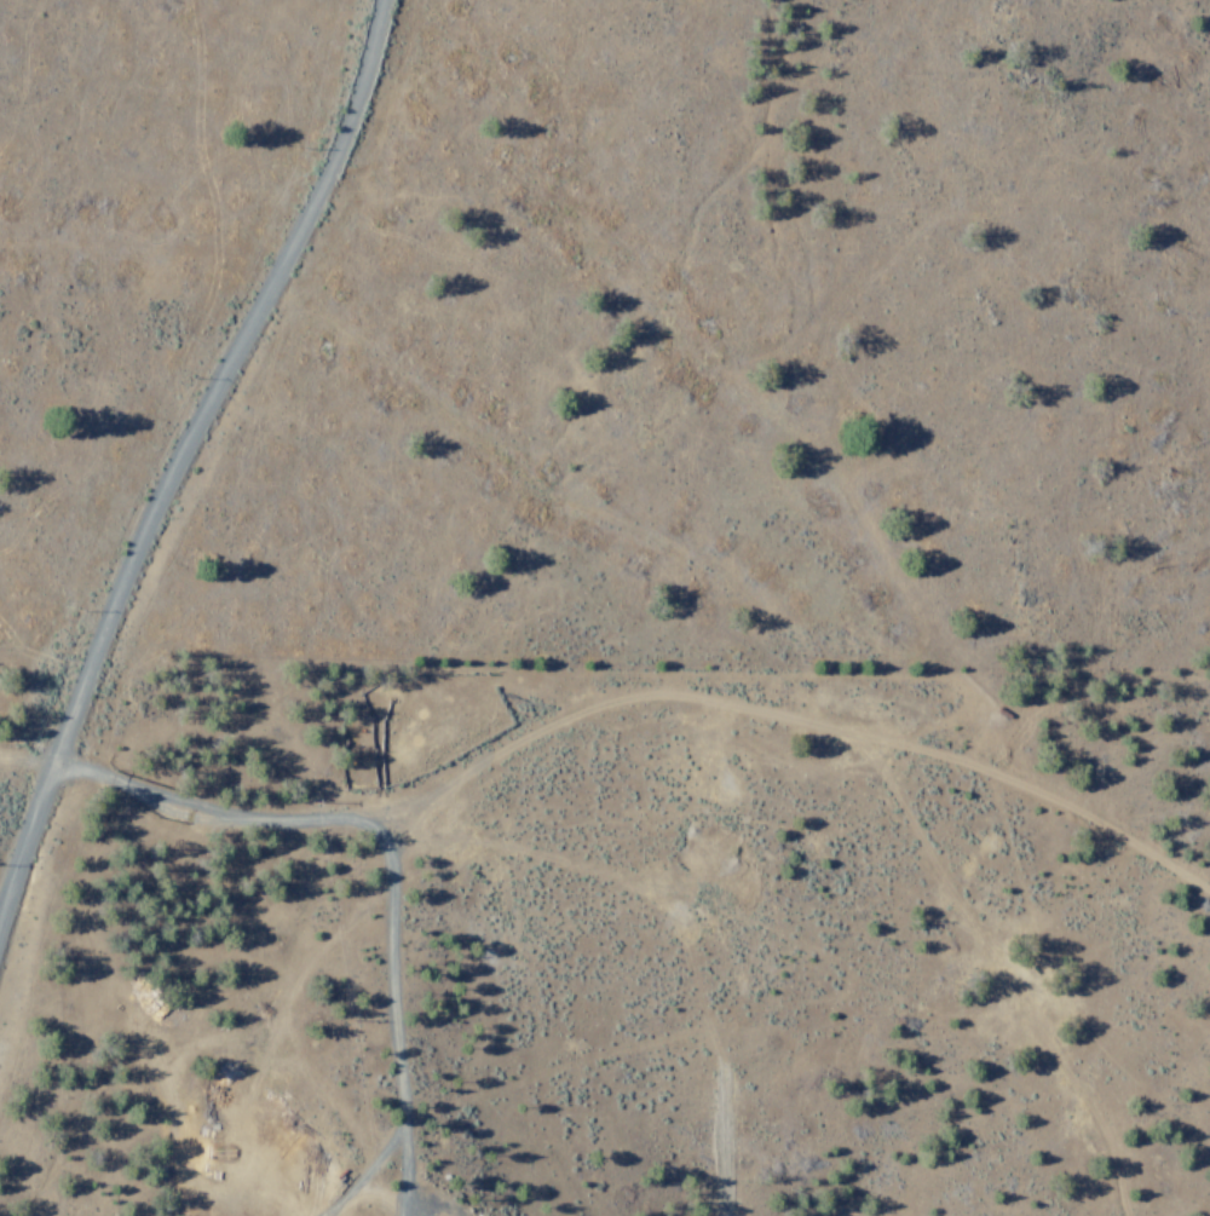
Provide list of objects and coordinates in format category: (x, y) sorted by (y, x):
road: (184, 460)

